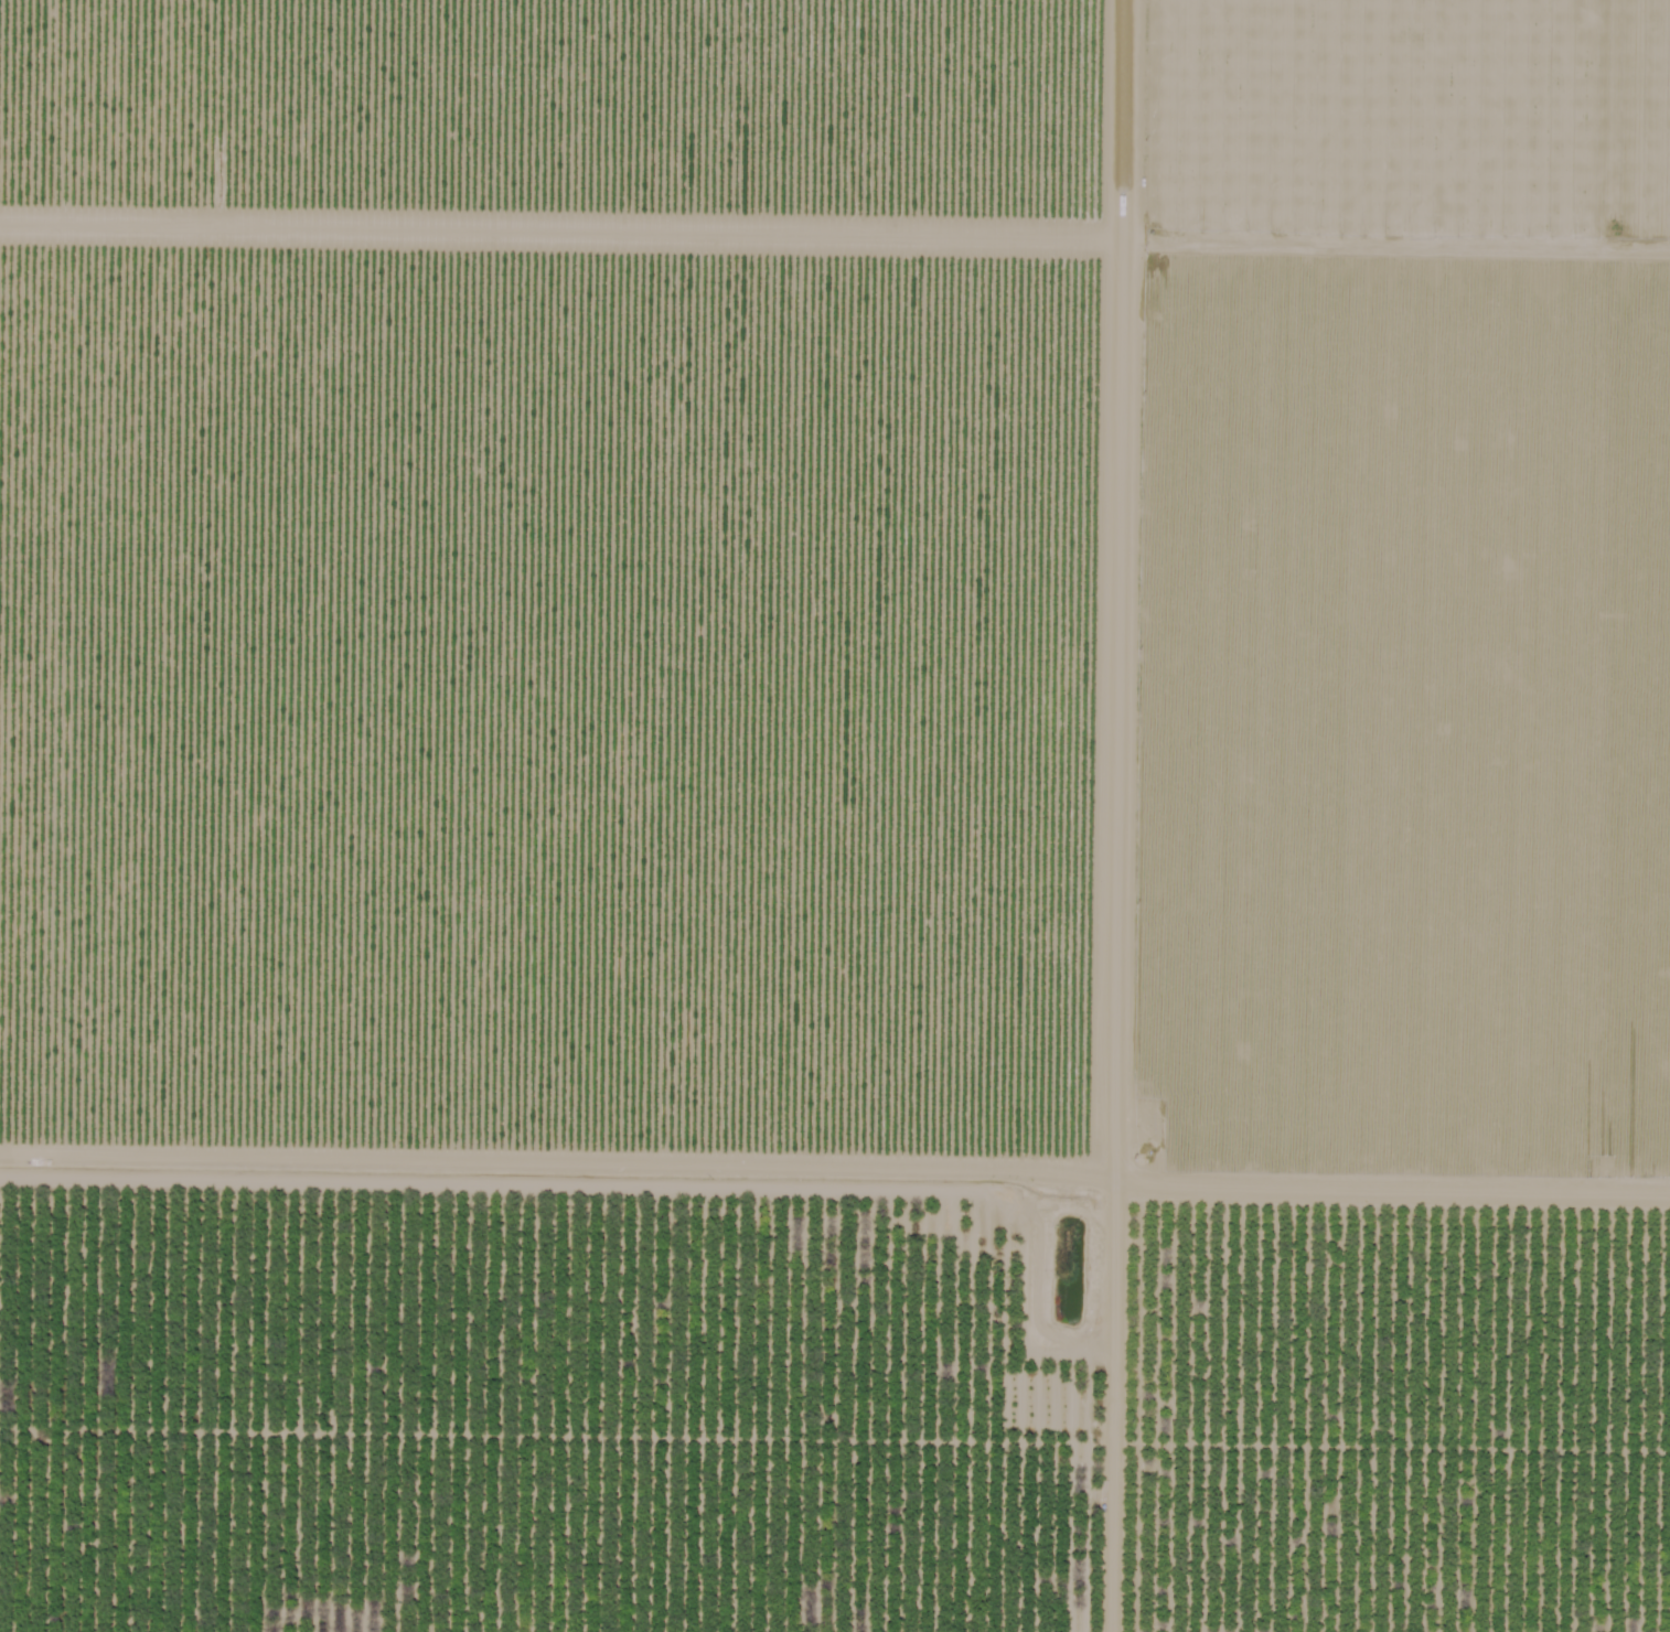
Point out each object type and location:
crop: (1417, 562)
road: (1161, 816)

